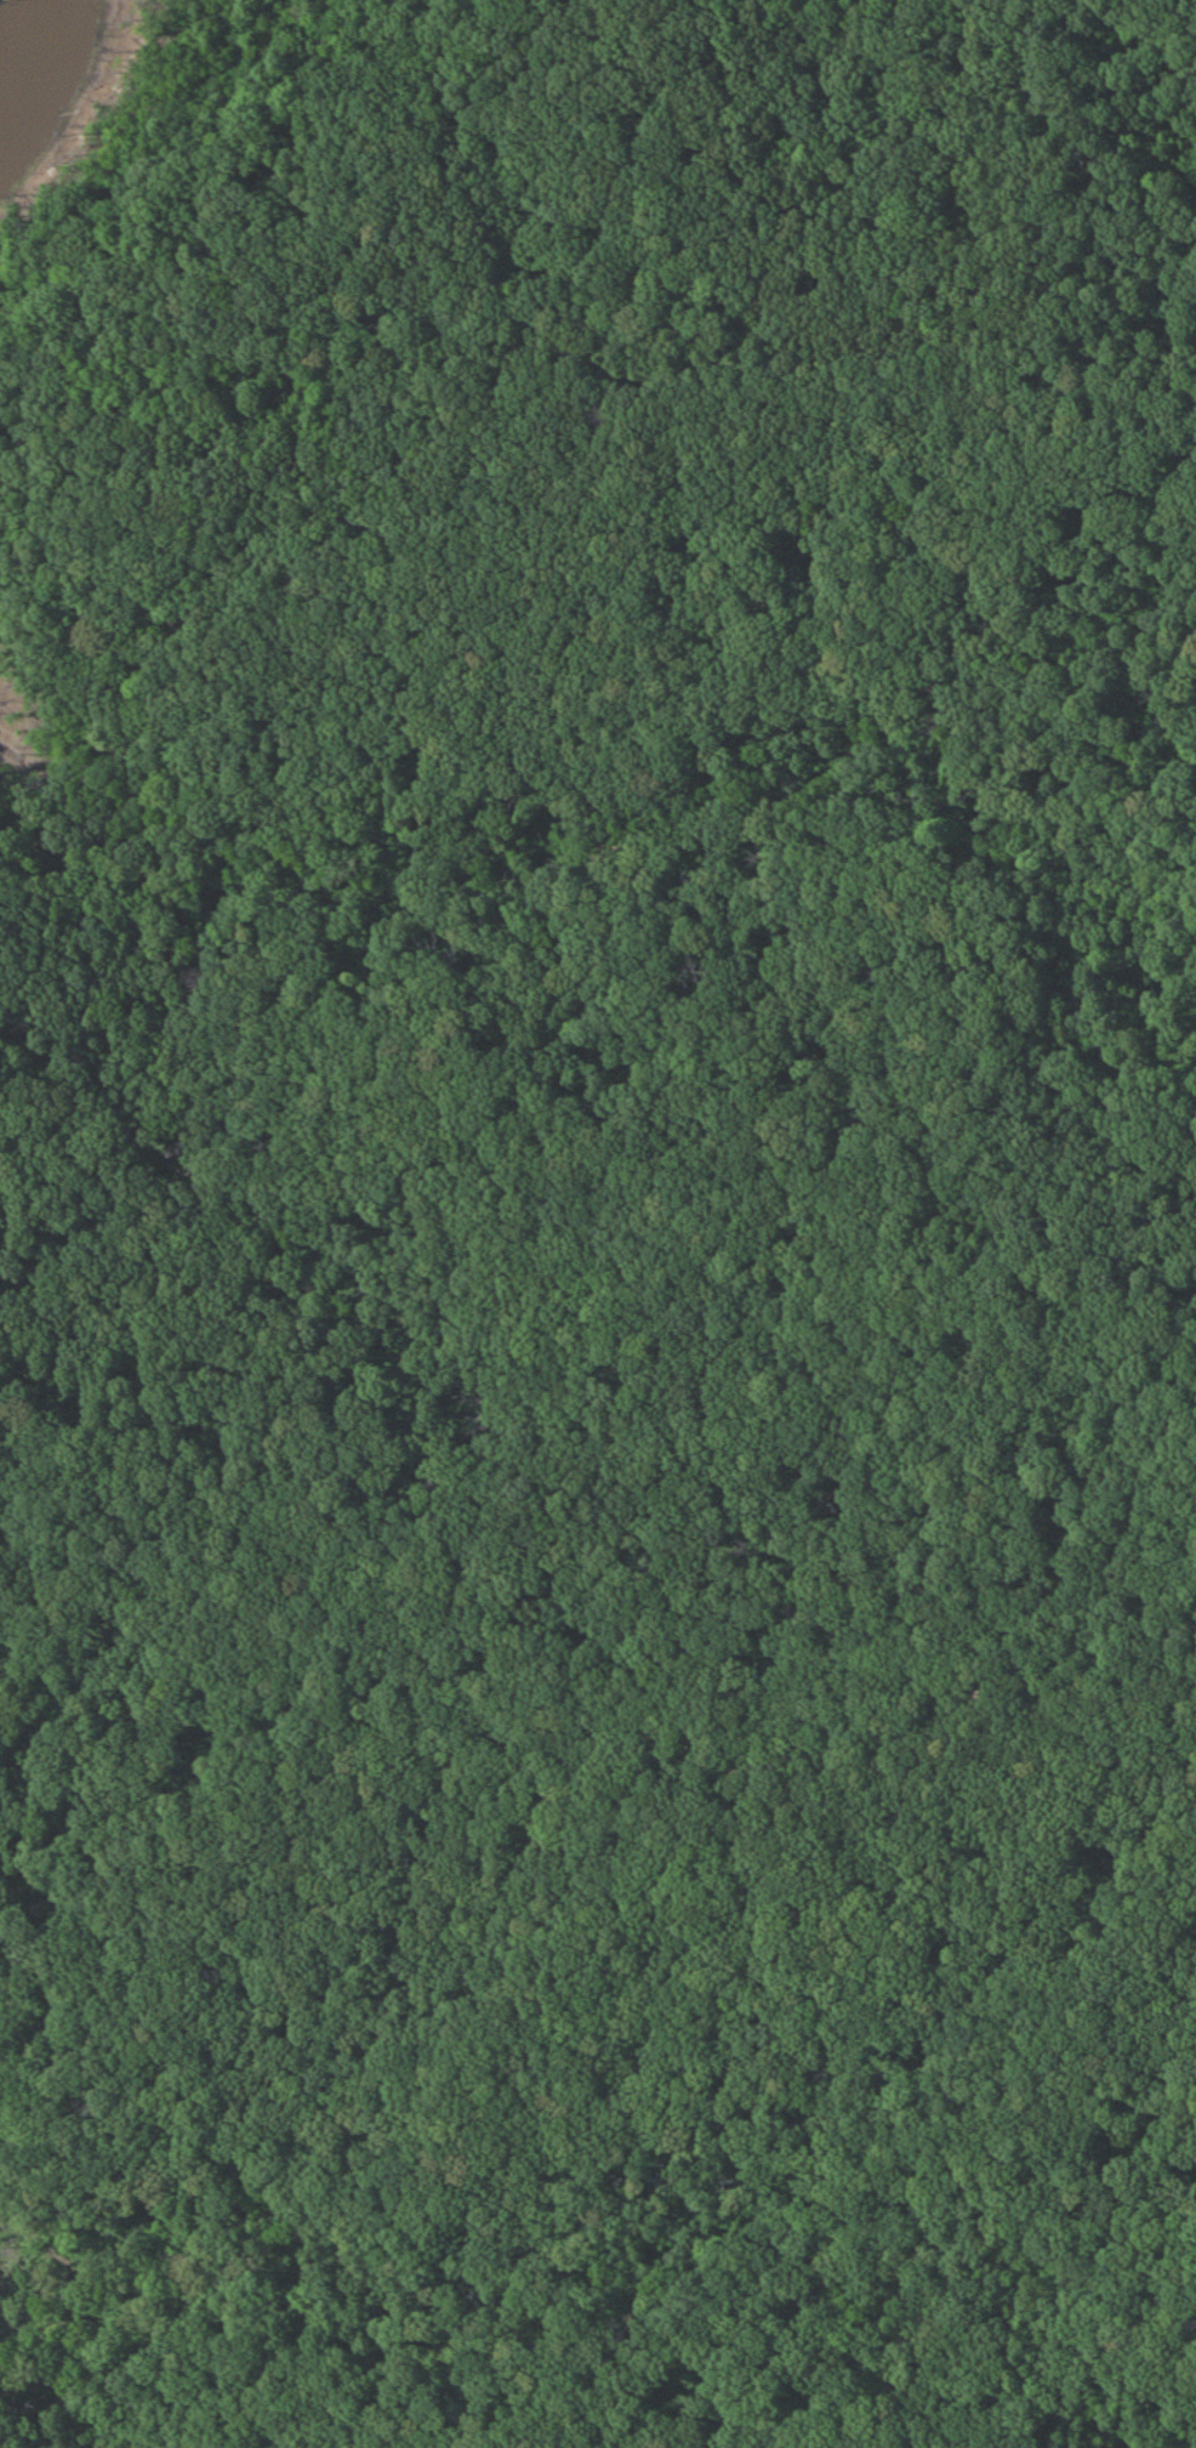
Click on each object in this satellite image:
road: (576, 1719)

